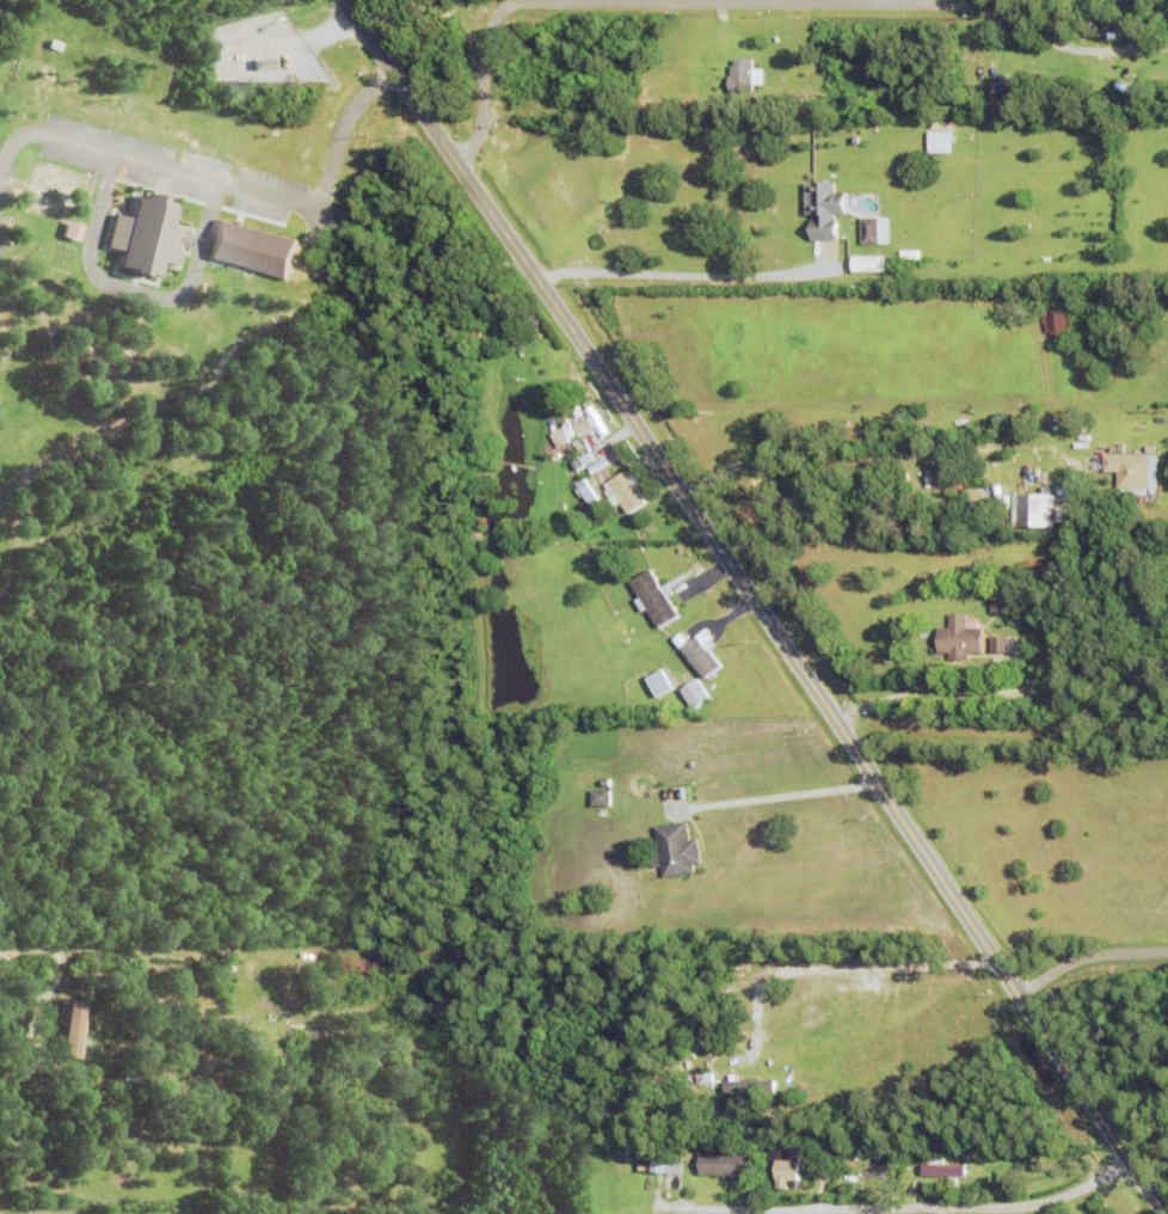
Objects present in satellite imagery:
road: (553, 1)
road: (714, 1)
road: (943, 5)
building: (1104, 26)
road: (491, 36)
road: (957, 55)
building: (260, 62)
building: (743, 73)
building: (1123, 85)
building: (1016, 86)
road: (690, 111)
building: (940, 124)
building: (938, 141)
building: (648, 146)
road: (217, 184)
building: (826, 206)
building: (872, 228)
building: (69, 229)
building: (143, 235)
building: (248, 247)
building: (866, 263)
road: (677, 275)
building: (499, 292)
building: (1057, 319)
building: (567, 386)
building: (594, 421)
building: (583, 425)
building: (558, 436)
building: (566, 447)
building: (1150, 447)
road: (875, 456)
building: (580, 460)
building: (598, 461)
building: (994, 470)
building: (1133, 470)
building: (900, 476)
building: (596, 480)
building: (955, 485)
building: (588, 491)
building: (623, 491)
building: (976, 493)
building: (1033, 507)
building: (656, 595)
building: (1000, 601)
road: (757, 605)
building: (960, 636)
building: (1000, 643)
building: (701, 656)
building: (659, 682)
building: (695, 692)
road: (921, 697)
building: (601, 797)
road: (779, 797)
building: (677, 848)
road: (1087, 956)
building: (67, 1029)
building: (134, 1072)
building: (161, 1078)
building: (706, 1079)
building: (734, 1085)
building: (814, 1144)
building: (662, 1163)
building: (726, 1164)
building: (788, 1167)
building: (823, 1170)
building: (940, 1170)
road: (915, 1208)

